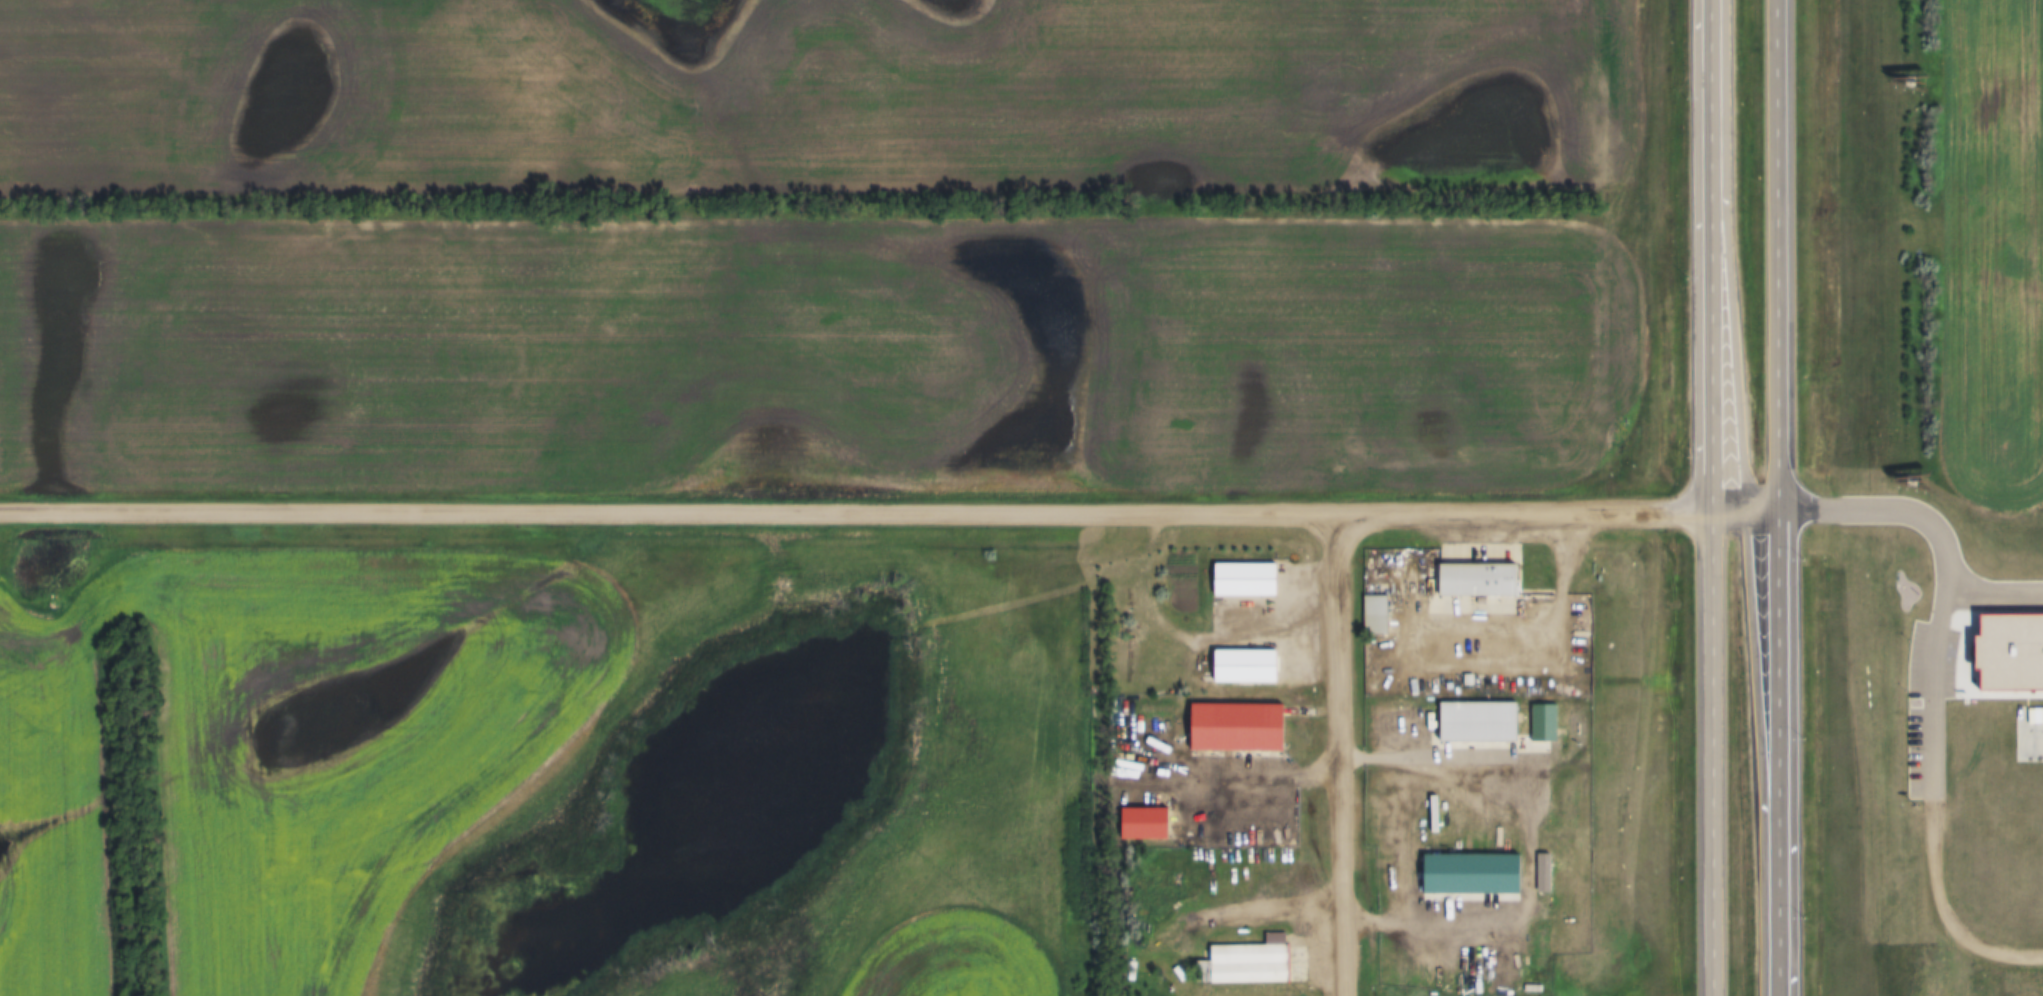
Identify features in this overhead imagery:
road: (1944, 265)
road: (1713, 498)
road: (1783, 498)
road: (1748, 510)
road: (857, 511)
road: (1825, 511)
road: (1955, 538)
building: (1243, 580)
building: (1475, 580)
building: (1374, 610)
road: (1194, 640)
road: (1444, 658)
road: (1911, 712)
building: (1476, 721)
road: (1348, 752)
road: (1509, 844)
road: (1265, 905)
building: (1247, 963)

